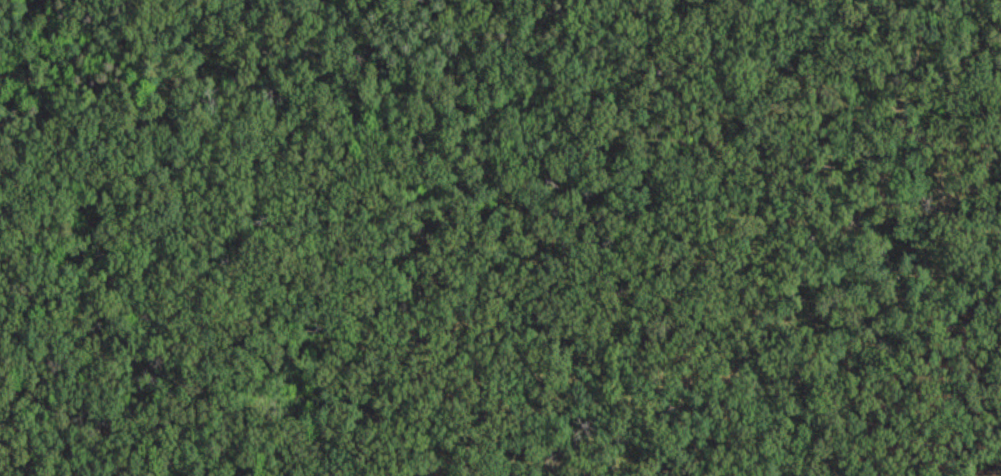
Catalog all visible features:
road: (590, 292)

